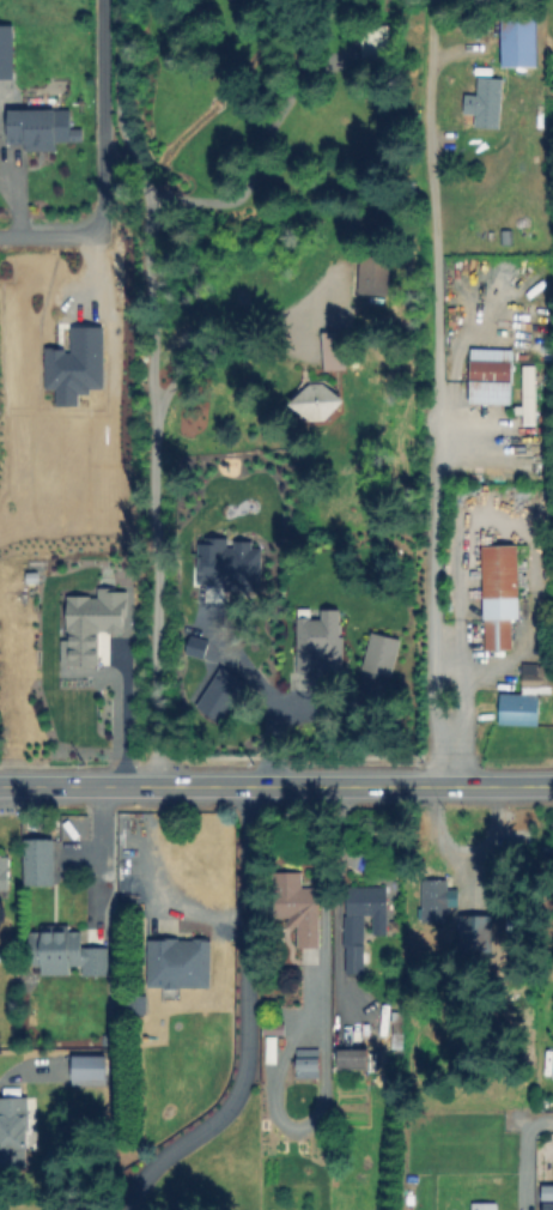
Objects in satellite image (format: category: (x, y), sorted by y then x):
building: (519, 40)
building: (376, 49)
building: (5, 50)
building: (486, 102)
building: (35, 131)
building: (75, 134)
road: (101, 162)
building: (508, 237)
building: (375, 277)
building: (333, 309)
road: (225, 327)
building: (332, 351)
building: (492, 379)
road: (438, 392)
building: (530, 398)
building: (317, 403)
building: (226, 563)
road: (157, 581)
building: (504, 593)
building: (91, 624)
building: (317, 642)
building: (378, 653)
building: (351, 658)
building: (218, 692)
building: (528, 698)
building: (291, 709)
road: (80, 784)
road: (357, 785)
road: (103, 843)
building: (39, 863)
building: (4, 875)
building: (434, 899)
building: (298, 905)
building: (364, 912)
building: (442, 919)
building: (473, 932)
building: (66, 954)
building: (178, 962)
road: (247, 1021)
building: (354, 1059)
building: (309, 1065)
building: (86, 1069)
building: (552, 1069)
building: (13, 1132)
road: (525, 1156)
building: (546, 1191)
building: (485, 1208)
building: (549, 1208)

